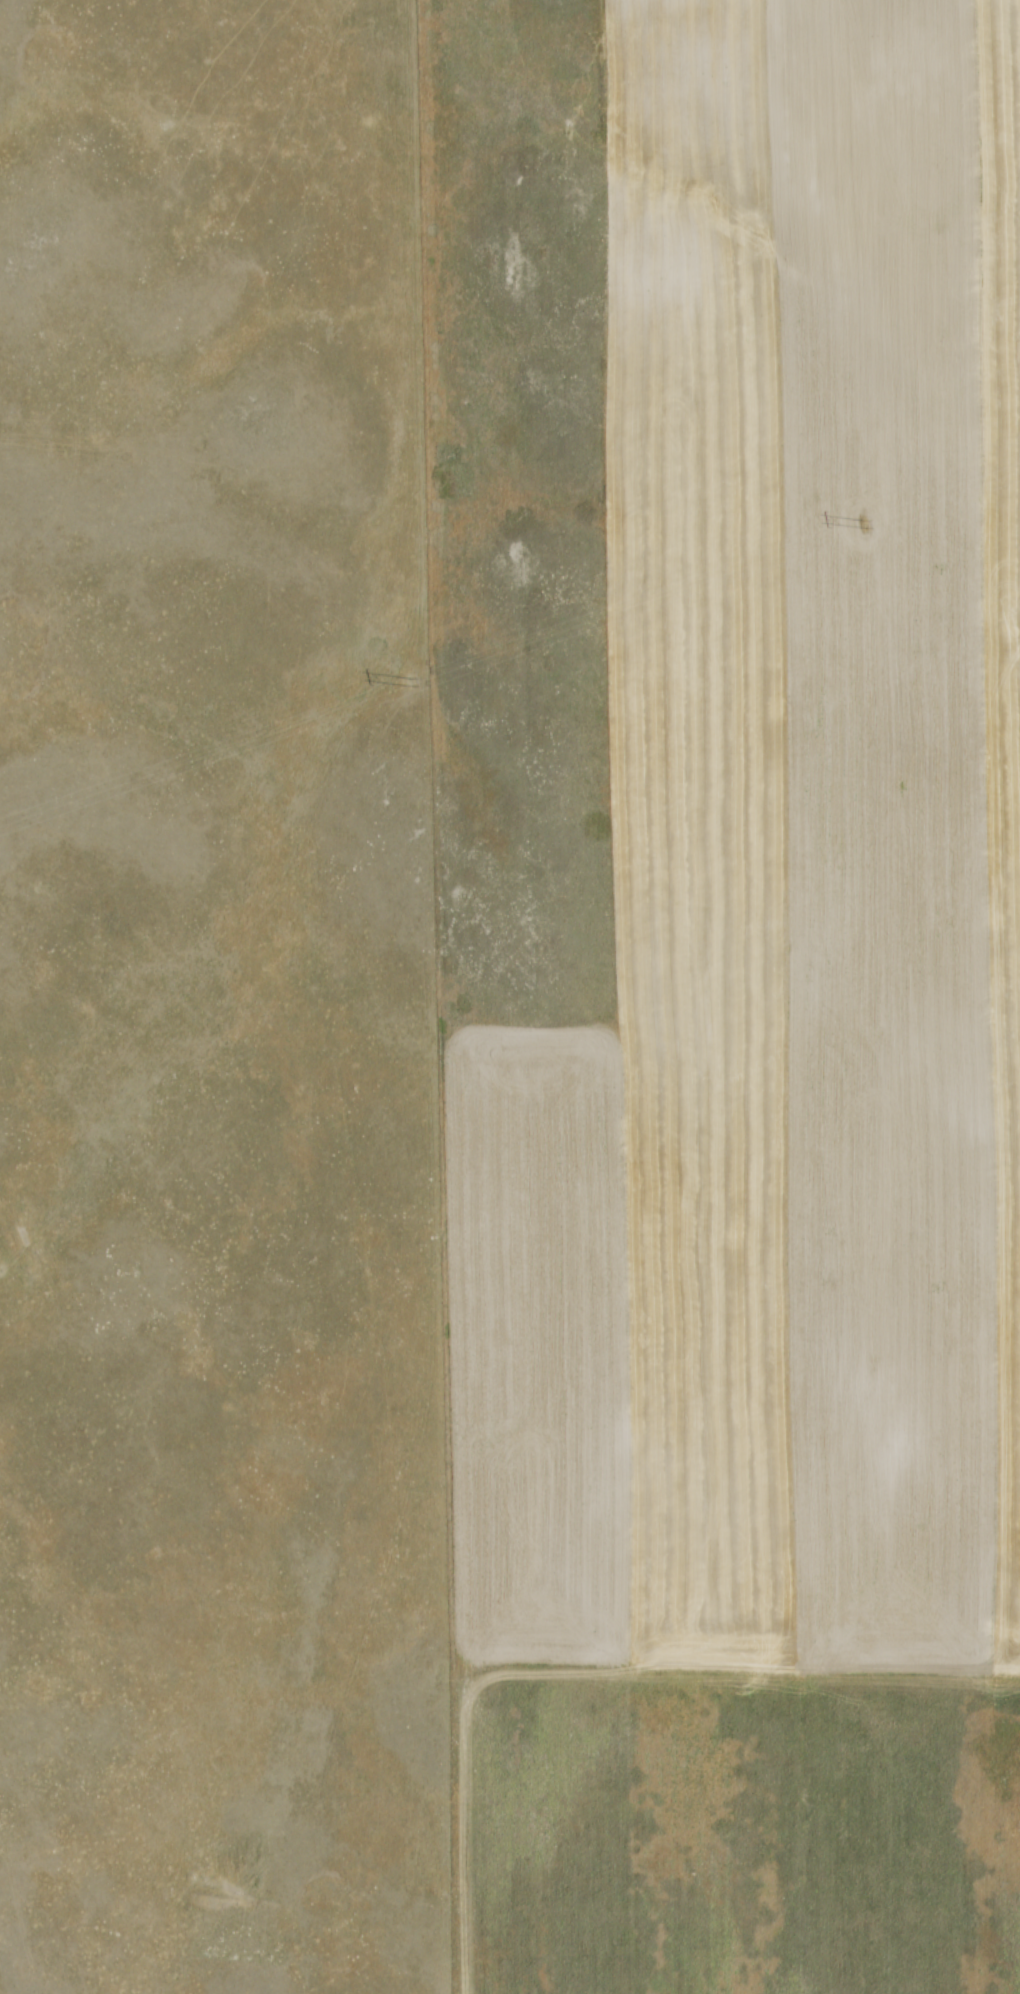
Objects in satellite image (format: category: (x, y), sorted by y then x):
power tower: (863, 521)
power tower: (410, 680)

